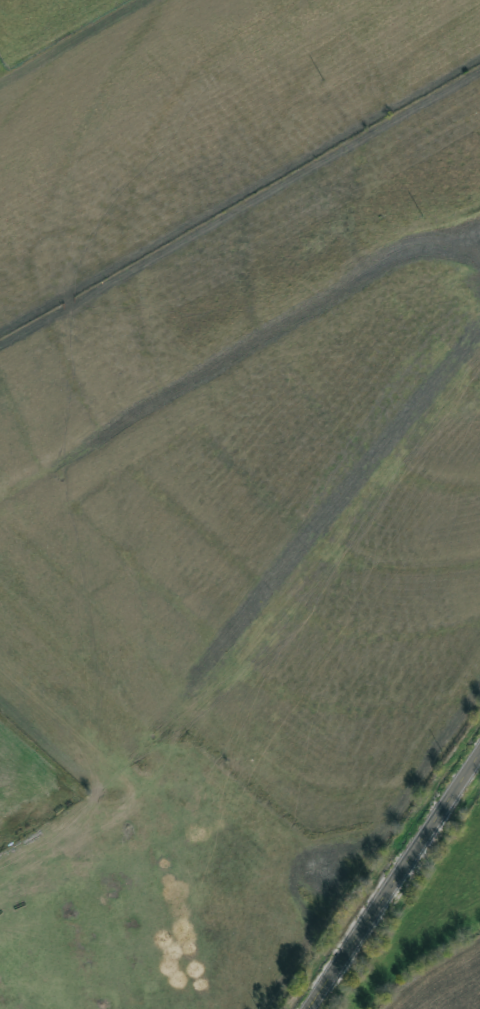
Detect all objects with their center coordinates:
road: (390, 873)

